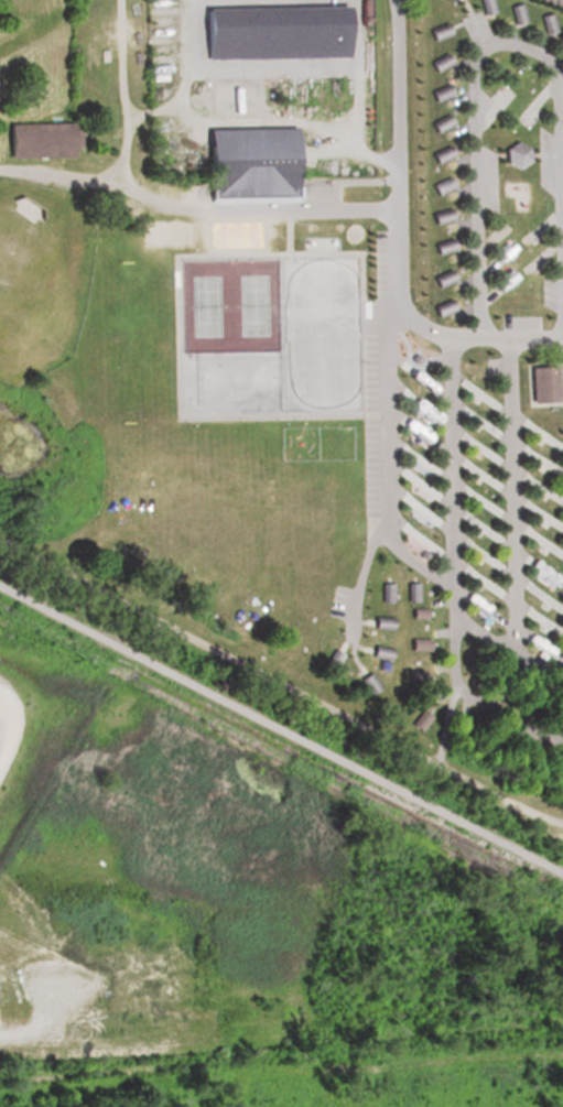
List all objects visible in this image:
parking lot: (552, 2)
road: (465, 4)
building: (485, 4)
building: (515, 10)
building: (546, 20)
building: (435, 30)
building: (274, 33)
road: (481, 34)
building: (436, 61)
road: (474, 80)
road: (120, 88)
building: (436, 91)
road: (400, 105)
building: (436, 122)
building: (35, 137)
building: (511, 152)
building: (439, 153)
building: (251, 162)
road: (562, 169)
road: (87, 174)
building: (439, 183)
road: (293, 209)
building: (31, 211)
building: (439, 214)
park: (162, 232)
park: (355, 234)
water park: (323, 245)
building: (440, 246)
road: (400, 254)
building: (440, 276)
building: (440, 306)
park: (231, 307)
park: (320, 336)
road: (473, 338)
building: (539, 382)
park: (232, 383)
road: (386, 470)
road: (515, 497)
road: (416, 564)
road: (454, 572)
building: (478, 580)
building: (385, 589)
building: (410, 589)
building: (543, 597)
building: (484, 609)
building: (414, 612)
building: (541, 619)
building: (379, 621)
building: (415, 643)
road: (508, 649)
building: (378, 651)
building: (329, 658)
building: (486, 670)
building: (413, 676)
road: (281, 679)
building: (368, 680)
building: (529, 688)
building: (420, 718)
building: (560, 718)
road: (281, 728)
building: (459, 735)
building: (488, 742)
building: (538, 767)

